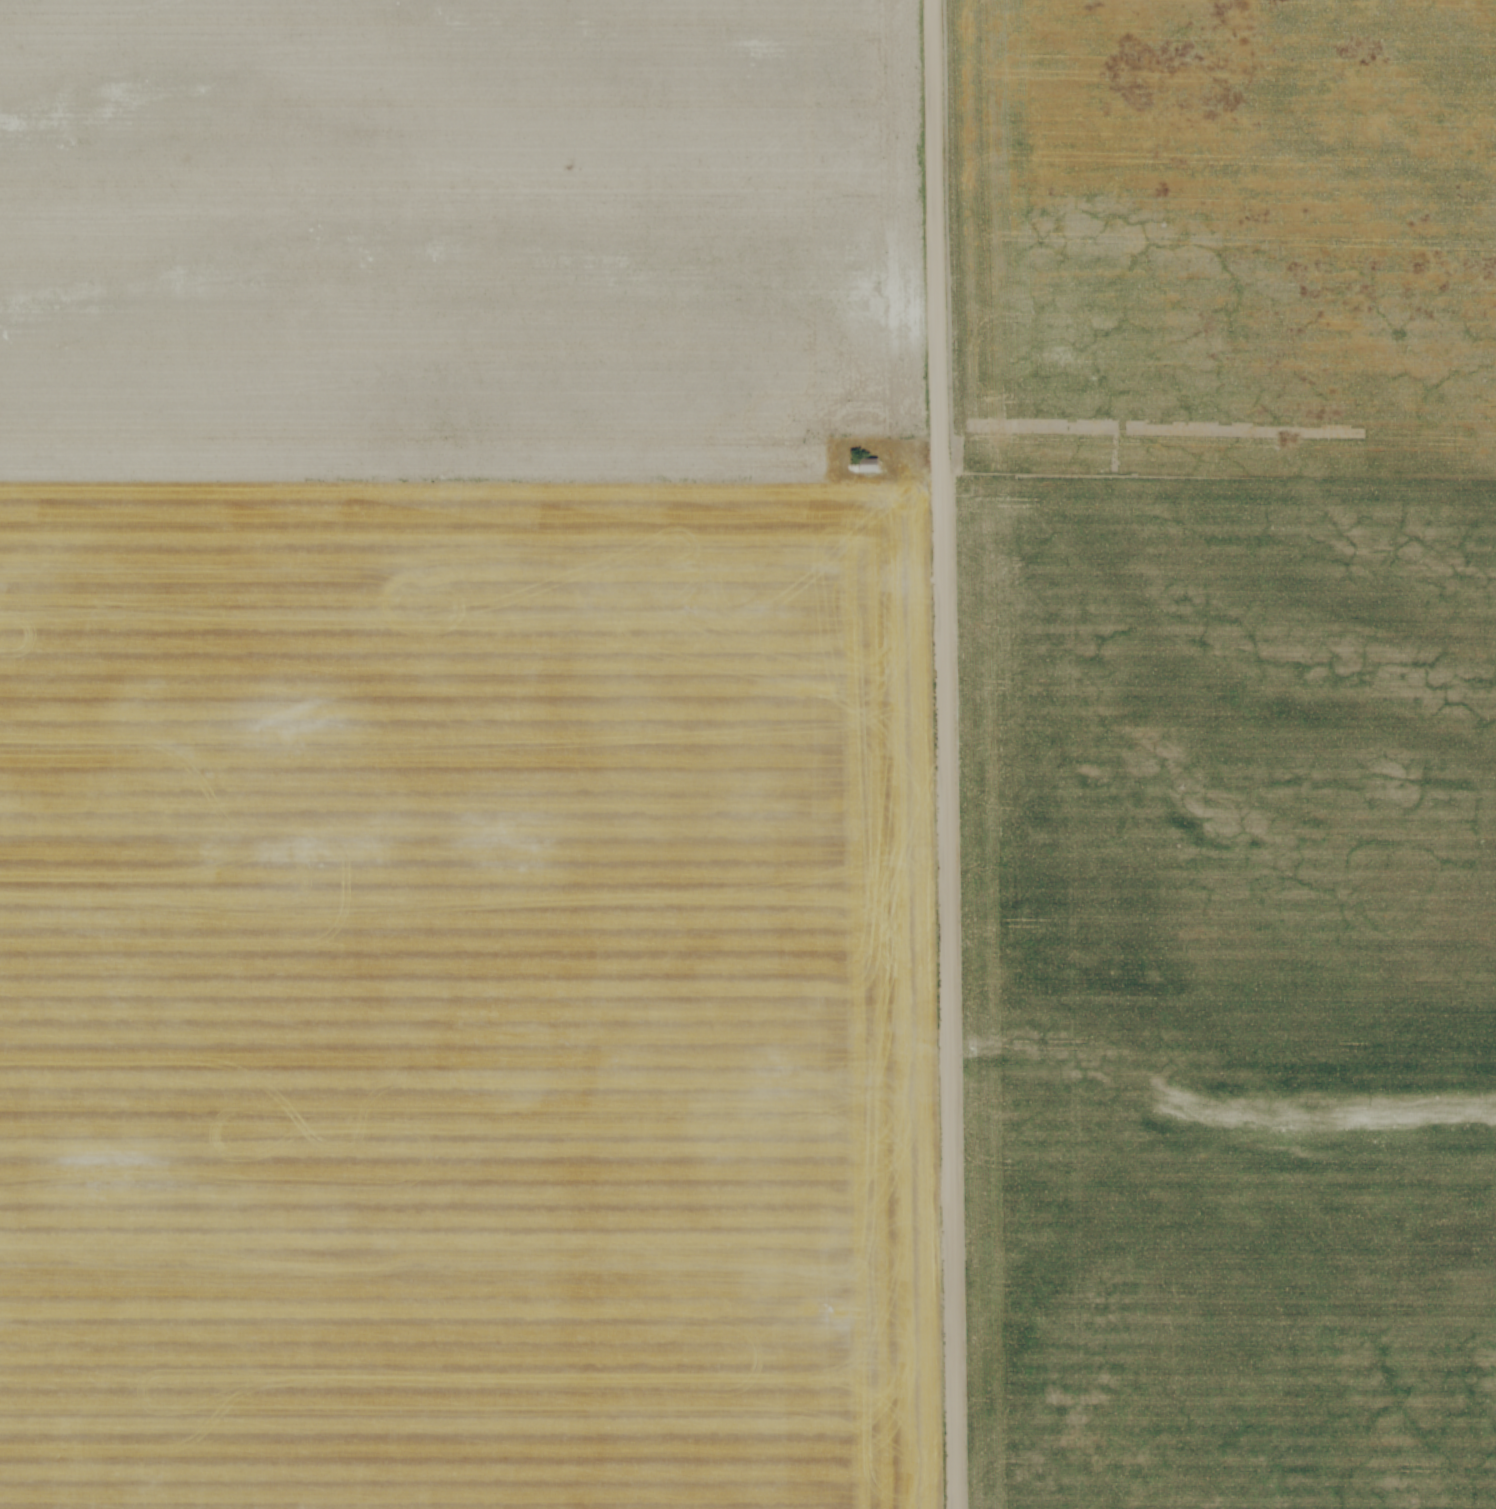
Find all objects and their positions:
building: (866, 466)
crop: (1225, 749)
road: (943, 754)
crop: (464, 757)

